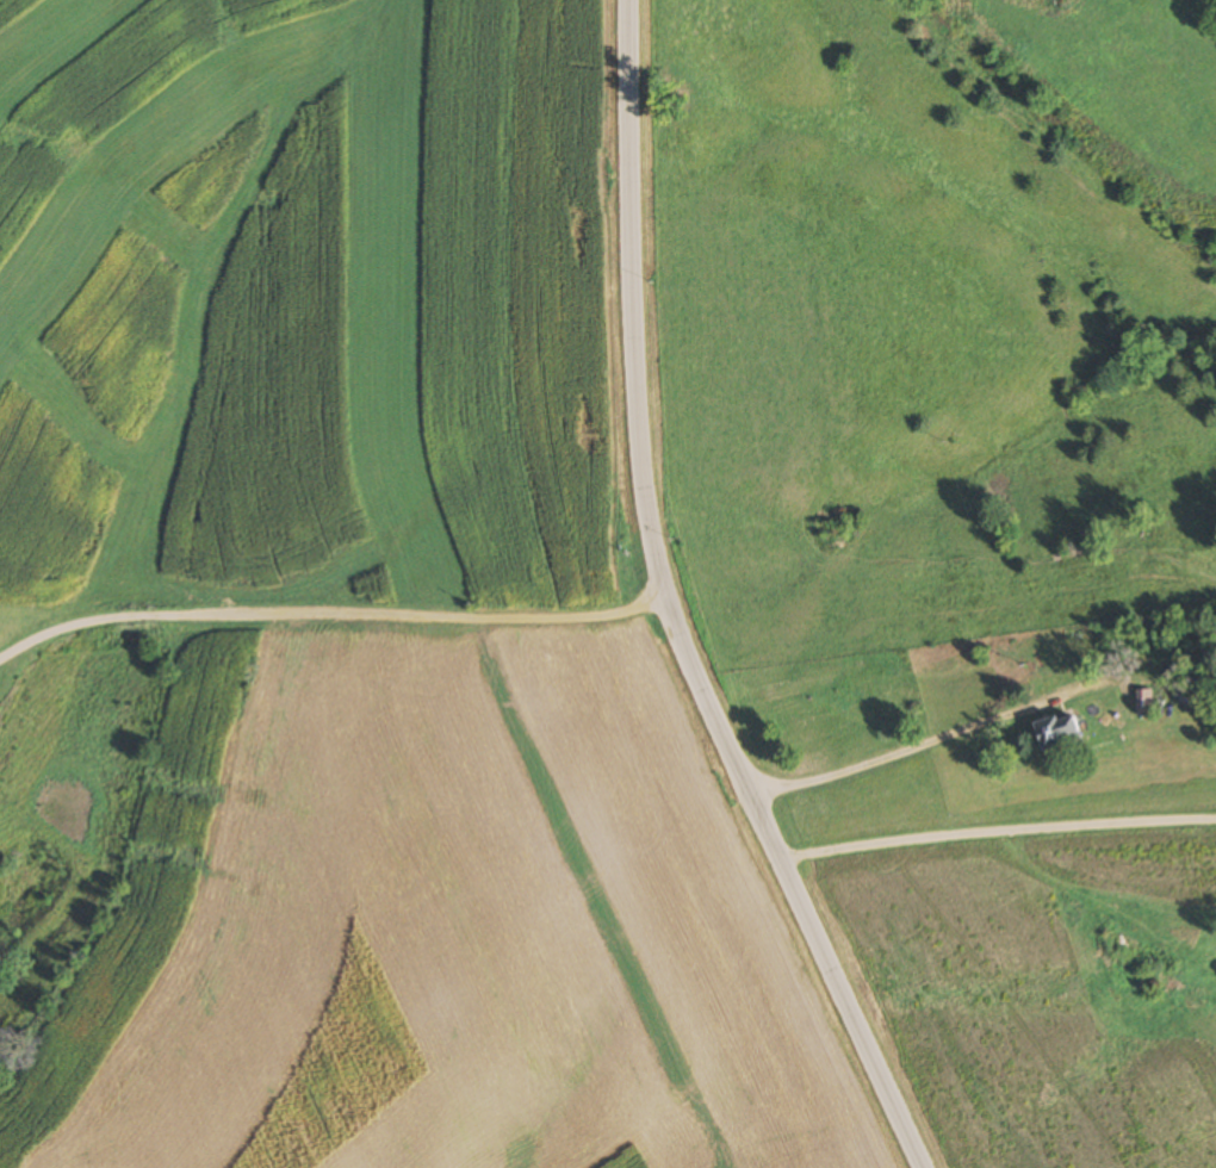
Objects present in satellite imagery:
road: (669, 609)
road: (330, 615)
building: (1144, 703)
building: (1060, 733)
road: (930, 744)
road: (995, 828)

